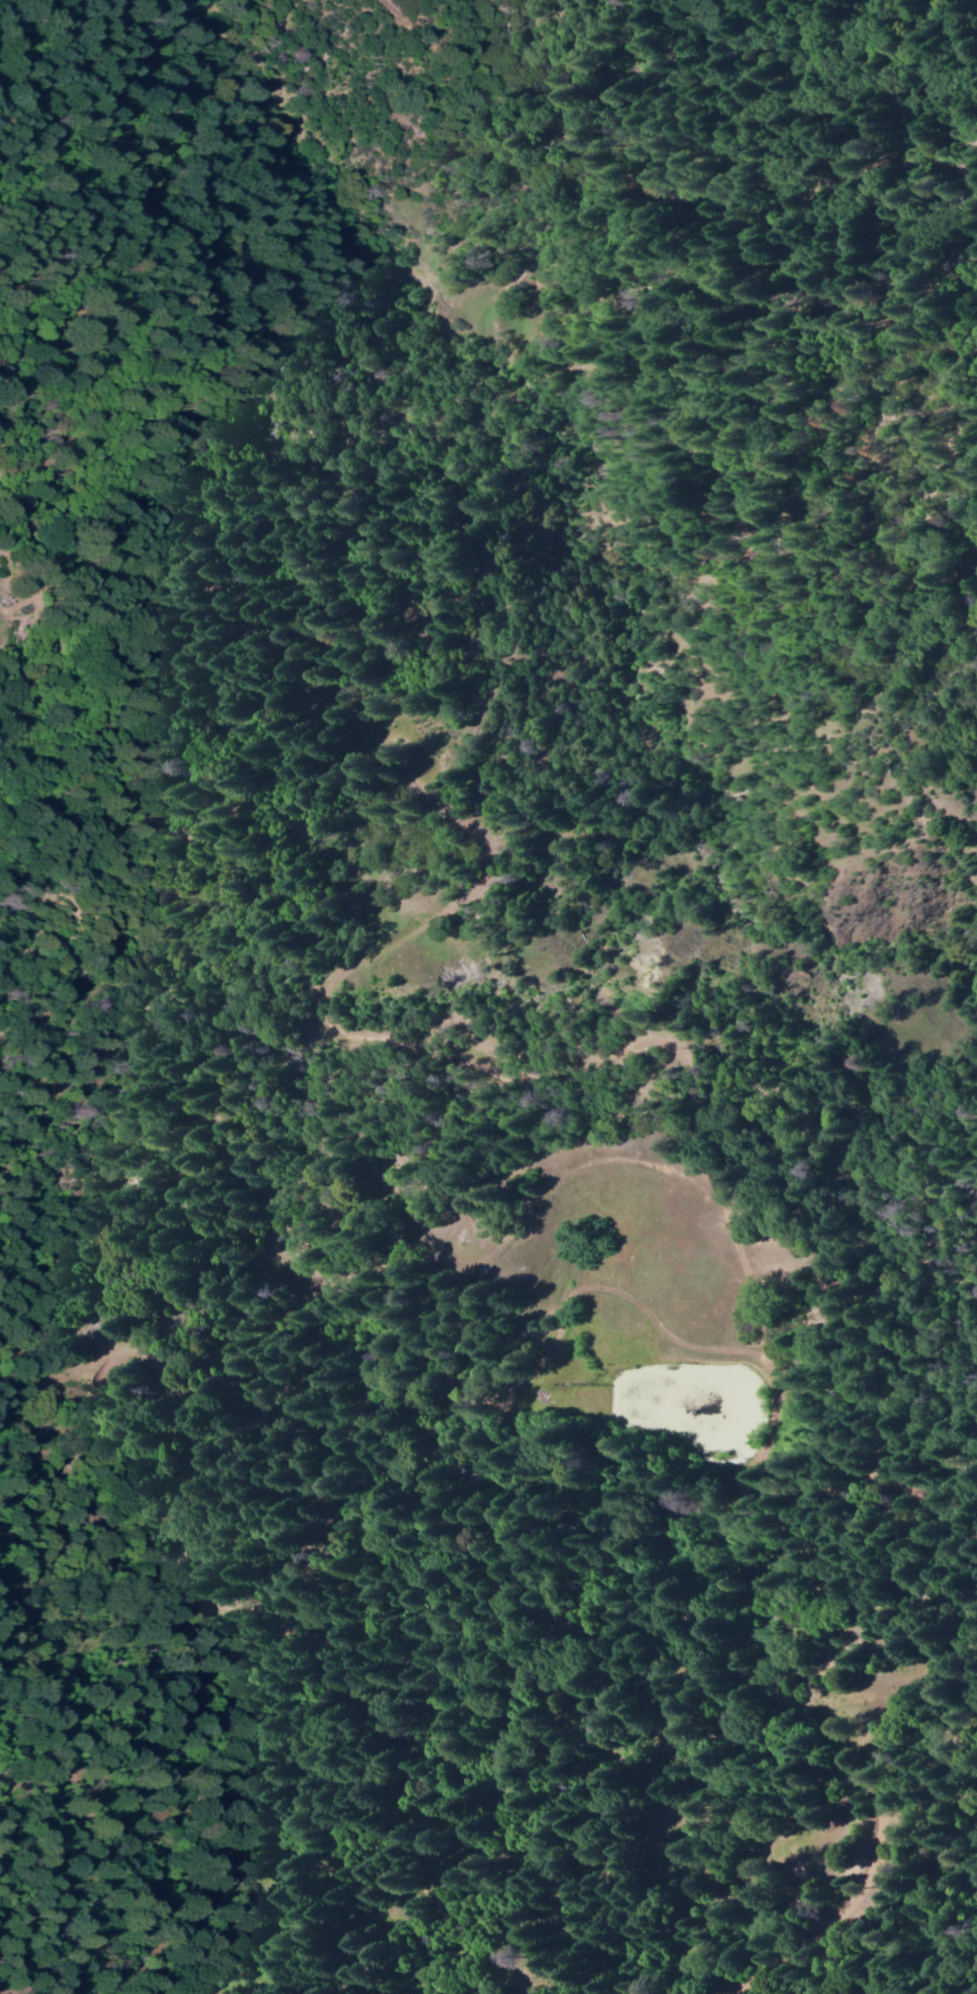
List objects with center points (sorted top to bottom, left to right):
road: (662, 181)
road: (734, 1212)
road: (426, 1661)
road: (825, 1926)

